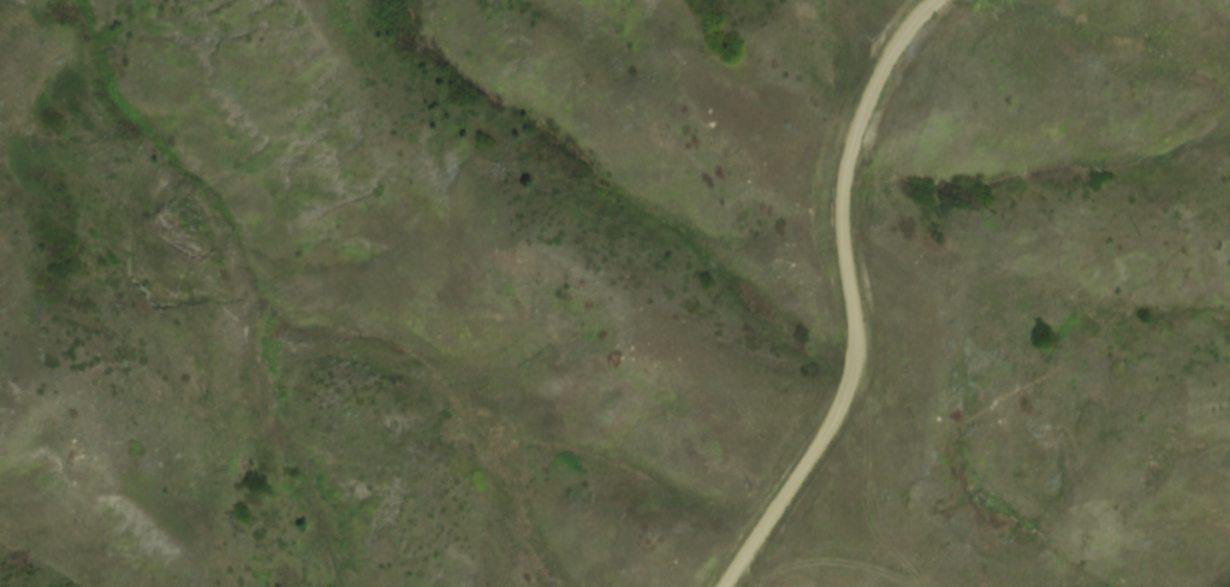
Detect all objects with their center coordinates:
road: (846, 297)

